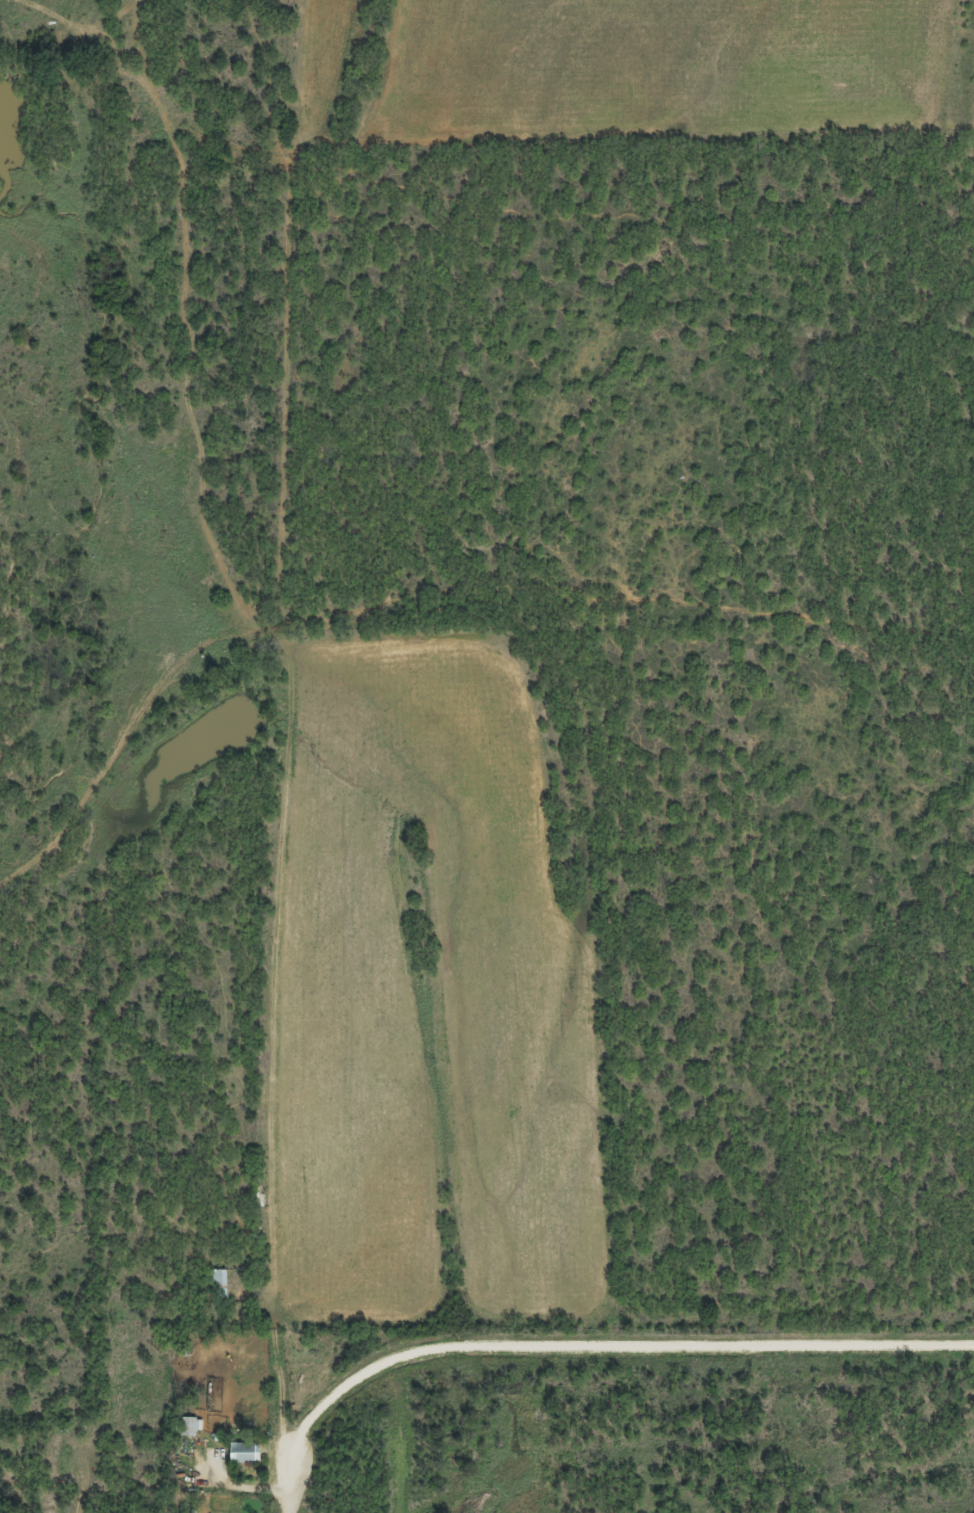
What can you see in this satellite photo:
building: (218, 1289)
road: (583, 1347)
building: (191, 1433)
building: (243, 1460)

